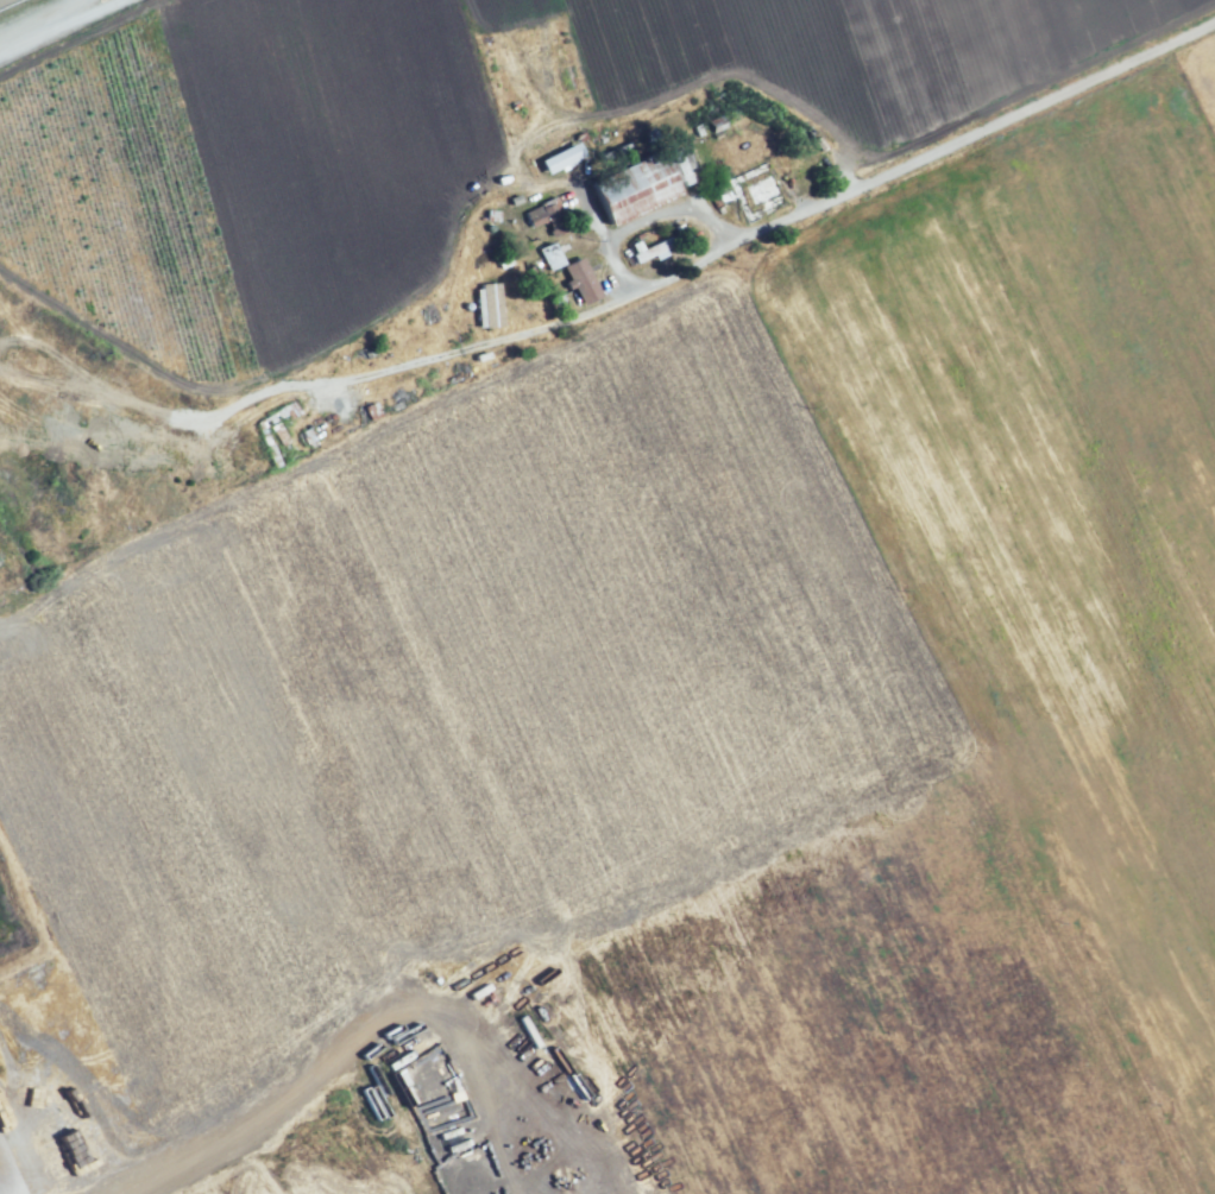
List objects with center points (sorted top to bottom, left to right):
road: (53, 24)
crop: (1198, 106)
building: (719, 127)
building: (564, 158)
building: (681, 165)
road: (911, 170)
building: (757, 191)
building: (637, 194)
building: (550, 222)
building: (649, 249)
building: (655, 254)
building: (548, 255)
building: (584, 283)
building: (497, 303)
crop: (737, 347)
crop: (510, 849)
building: (42, 1035)

